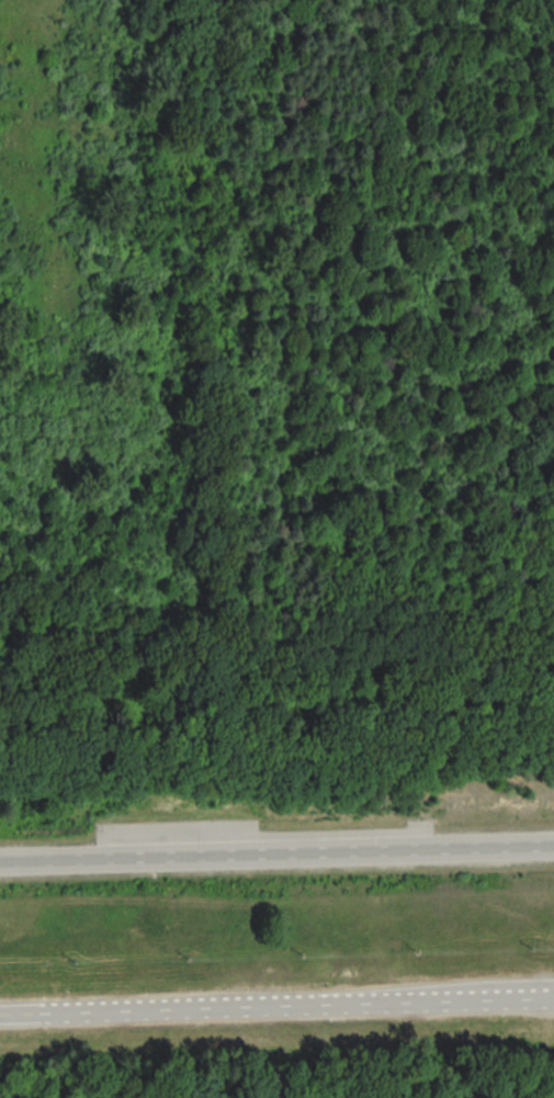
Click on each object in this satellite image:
road: (276, 857)
road: (276, 1006)

